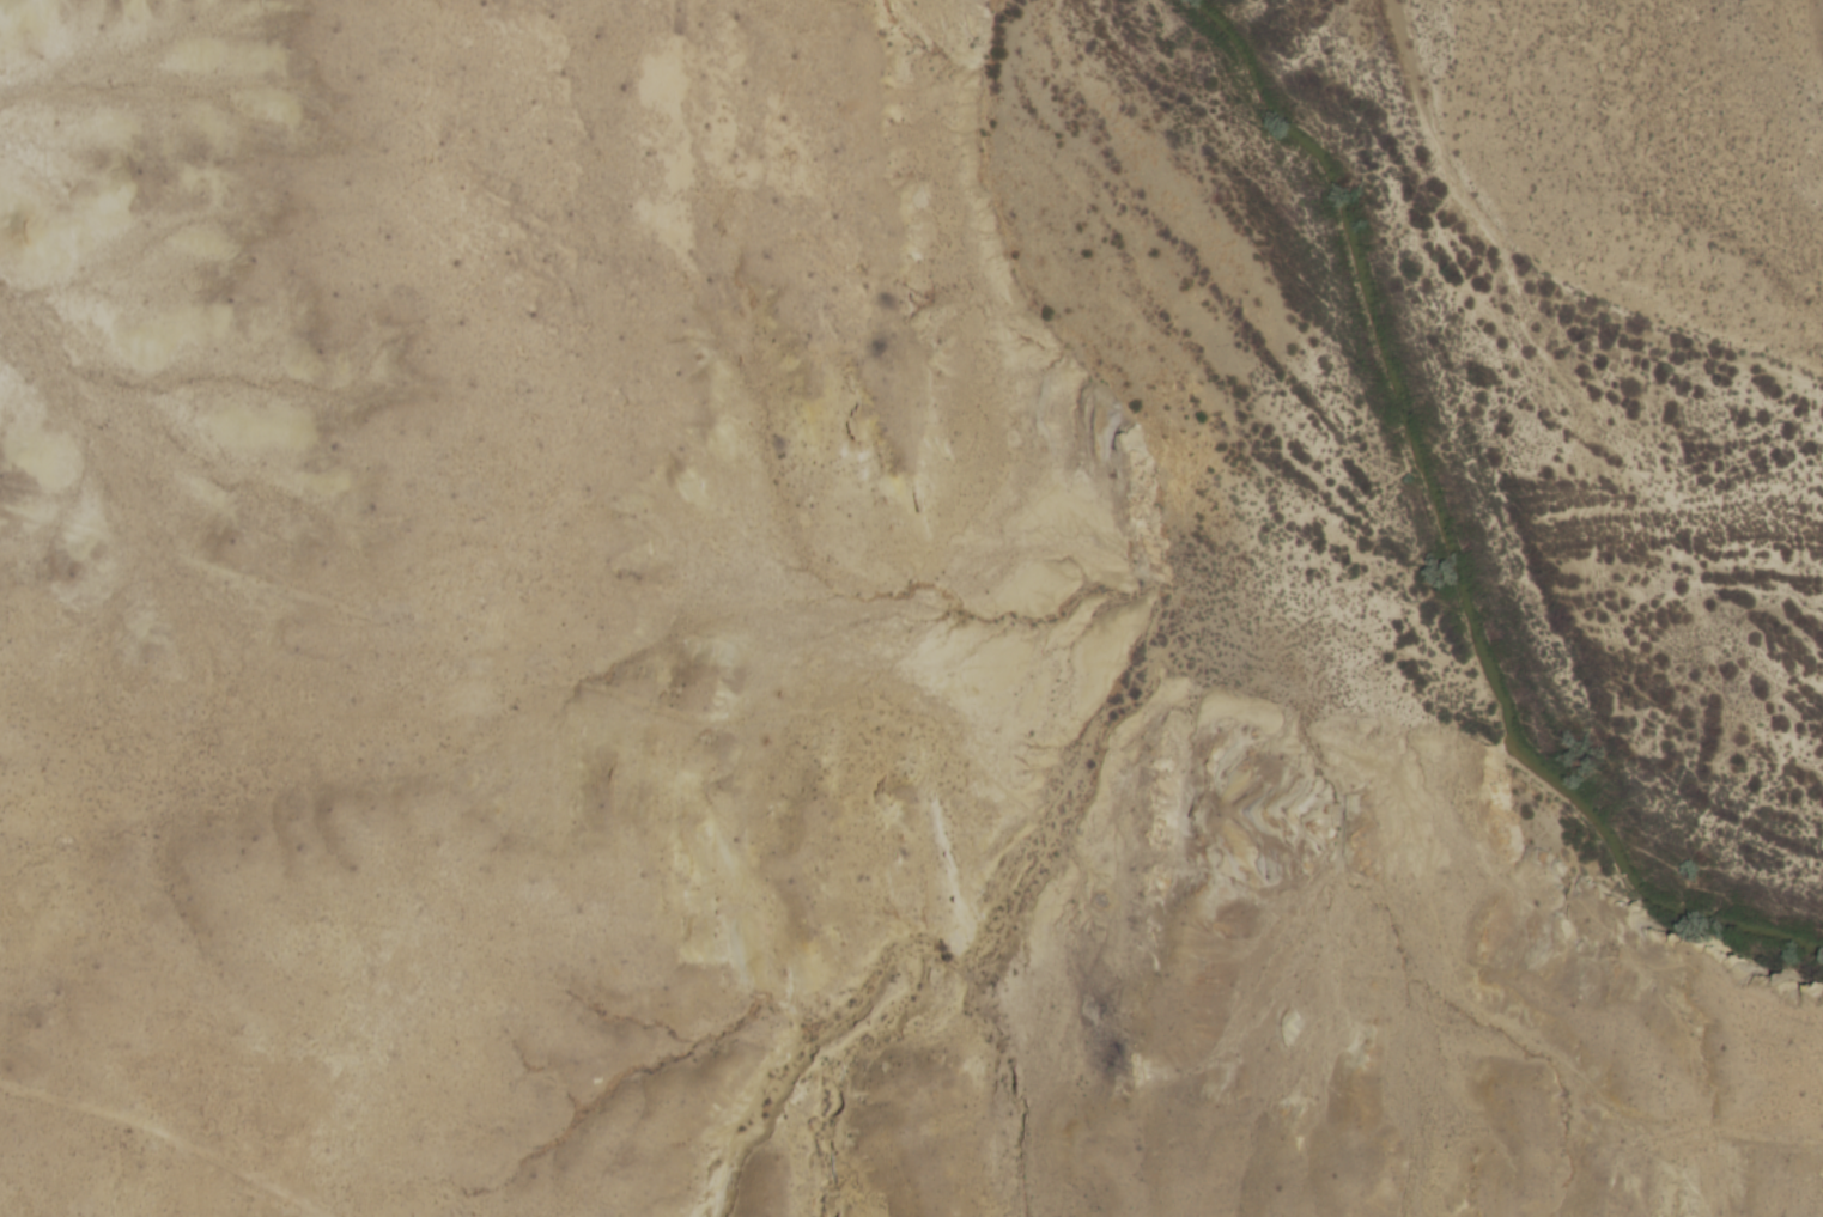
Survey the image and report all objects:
river: (1446, 536)

